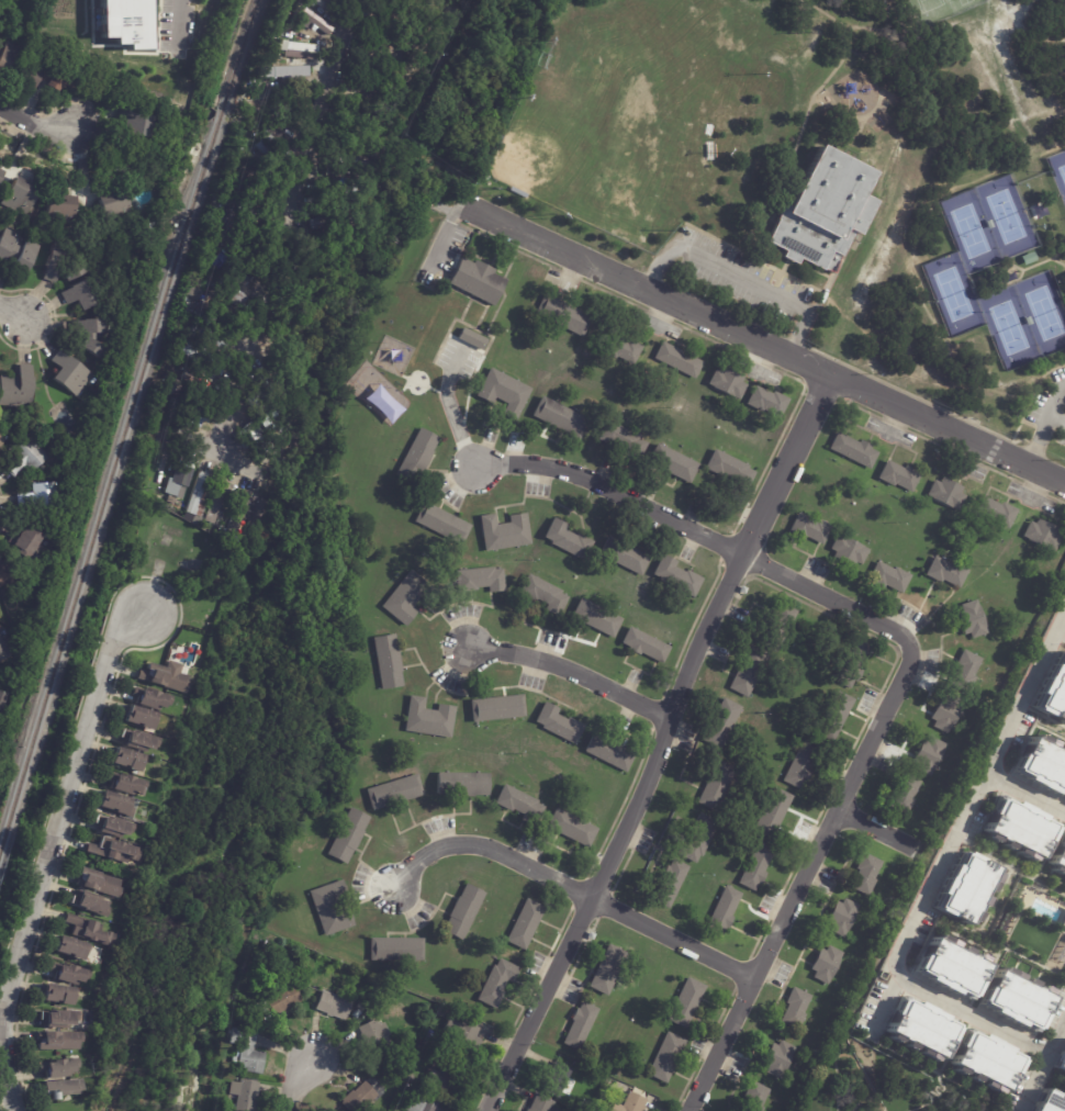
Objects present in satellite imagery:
building: (321, 3)
park: (928, 3)
road: (181, 7)
building: (310, 21)
building: (124, 22)
road: (949, 30)
road: (345, 38)
railway: (242, 46)
building: (391, 46)
building: (293, 48)
building: (7, 55)
building: (283, 71)
building: (45, 76)
building: (362, 85)
road: (1014, 88)
road: (321, 106)
railway: (222, 109)
building: (134, 123)
road: (35, 124)
building: (345, 135)
building: (274, 138)
building: (500, 142)
park: (560, 147)
road: (794, 155)
building: (271, 156)
park: (629, 167)
building: (351, 168)
park: (1062, 171)
building: (0, 173)
park: (822, 180)
building: (262, 186)
building: (333, 187)
building: (517, 192)
building: (21, 195)
building: (57, 205)
building: (111, 206)
building: (823, 212)
building: (247, 215)
park: (1005, 216)
building: (338, 220)
park: (969, 229)
building: (242, 238)
building: (16, 251)
building: (238, 263)
building: (51, 266)
building: (70, 271)
road: (739, 277)
parking lot: (742, 278)
building: (1009, 278)
building: (477, 279)
road: (637, 285)
building: (233, 290)
road: (265, 292)
park: (953, 293)
building: (78, 295)
building: (220, 312)
park: (1045, 312)
road: (12, 313)
building: (562, 314)
park: (1009, 326)
building: (88, 336)
building: (209, 338)
building: (471, 338)
building: (620, 347)
building: (679, 359)
building: (208, 364)
building: (68, 372)
building: (728, 381)
building: (272, 383)
building: (198, 384)
building: (16, 388)
building: (504, 391)
building: (262, 399)
building: (767, 401)
parking lot: (1047, 406)
building: (259, 414)
building: (191, 415)
building: (561, 416)
road: (1057, 417)
road: (1045, 426)
road: (948, 429)
building: (621, 437)
building: (0, 439)
building: (255, 439)
road: (220, 449)
building: (854, 449)
building: (417, 454)
building: (22, 457)
building: (674, 462)
road: (787, 464)
building: (158, 468)
building: (729, 468)
building: (899, 475)
building: (176, 484)
railway: (109, 489)
building: (946, 492)
building: (198, 496)
building: (42, 501)
building: (170, 501)
building: (221, 501)
building: (240, 512)
building: (996, 512)
building: (441, 523)
building: (810, 528)
building: (504, 530)
building: (1043, 534)
building: (568, 539)
building: (24, 546)
building: (849, 550)
building: (625, 555)
building: (946, 571)
building: (5, 573)
building: (677, 576)
building: (889, 576)
building: (480, 579)
building: (543, 594)
building: (407, 597)
building: (596, 617)
building: (972, 619)
building: (782, 621)
building: (646, 644)
building: (8, 647)
building: (388, 661)
building: (851, 665)
road: (911, 665)
building: (2, 671)
road: (573, 671)
building: (749, 671)
building: (966, 671)
building: (162, 677)
building: (1054, 692)
building: (1, 698)
building: (149, 698)
building: (497, 707)
building: (946, 714)
building: (833, 716)
building: (138, 718)
building: (428, 718)
building: (721, 722)
building: (559, 723)
building: (137, 740)
building: (989, 747)
building: (609, 752)
building: (929, 755)
building: (126, 760)
building: (801, 763)
building: (1042, 766)
building: (124, 784)
building: (462, 784)
building: (717, 786)
building: (394, 792)
building: (905, 794)
road: (1022, 803)
building: (113, 804)
building: (519, 804)
building: (772, 813)
road: (961, 819)
building: (112, 826)
building: (572, 828)
road: (877, 828)
building: (1020, 829)
building: (348, 835)
road: (624, 835)
building: (697, 839)
building: (112, 850)
road: (48, 854)
building: (1058, 855)
building: (756, 866)
building: (866, 874)
building: (671, 883)
building: (98, 884)
road: (572, 887)
building: (967, 888)
building: (90, 906)
building: (330, 908)
building: (724, 910)
building: (463, 912)
building: (842, 917)
building: (1063, 921)
building: (524, 923)
building: (87, 931)
building: (267, 945)
building: (68, 949)
building: (396, 950)
building: (826, 964)
building: (607, 968)
building: (951, 968)
building: (68, 974)
building: (496, 984)
building: (57, 995)
building: (686, 1000)
building: (1016, 1000)
building: (278, 1002)
building: (333, 1006)
building: (795, 1008)
building: (441, 1012)
building: (355, 1013)
road: (972, 1014)
building: (379, 1015)
building: (57, 1020)
building: (580, 1023)
building: (921, 1028)
building: (461, 1032)
building: (374, 1036)
building: (59, 1042)
building: (246, 1051)
building: (666, 1056)
building: (781, 1058)
building: (234, 1059)
building: (987, 1060)
building: (1062, 1063)
building: (57, 1068)
building: (442, 1074)
road: (1046, 1074)
building: (382, 1075)
building: (556, 1078)
building: (614, 1081)
road: (296, 1084)
park: (886, 1085)
building: (413, 1087)
building: (59, 1088)
building: (243, 1095)
building: (754, 1097)
building: (358, 1098)
building: (598, 1099)
building: (1051, 1101)
building: (636, 1102)
building: (540, 1103)
building: (423, 1104)

